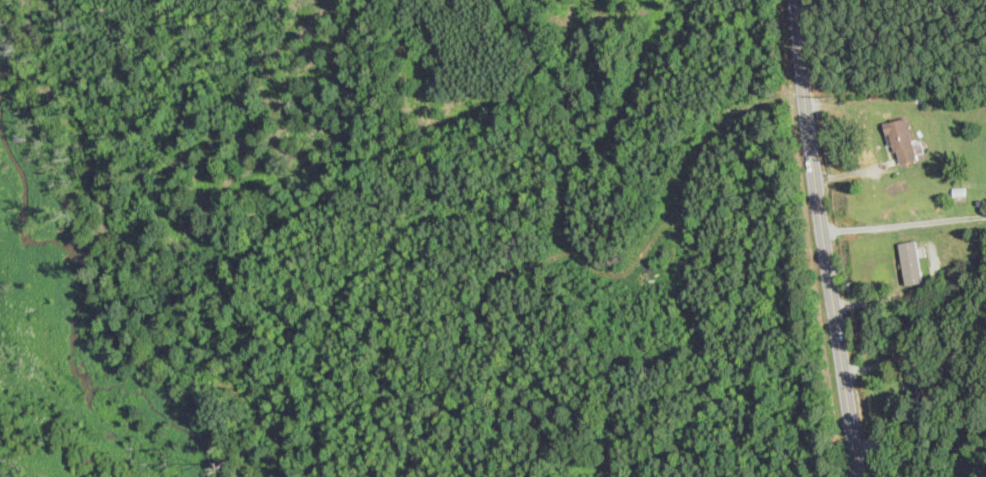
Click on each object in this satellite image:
building: (902, 139)
road: (904, 224)
road: (823, 239)
building: (911, 261)
road: (892, 294)

